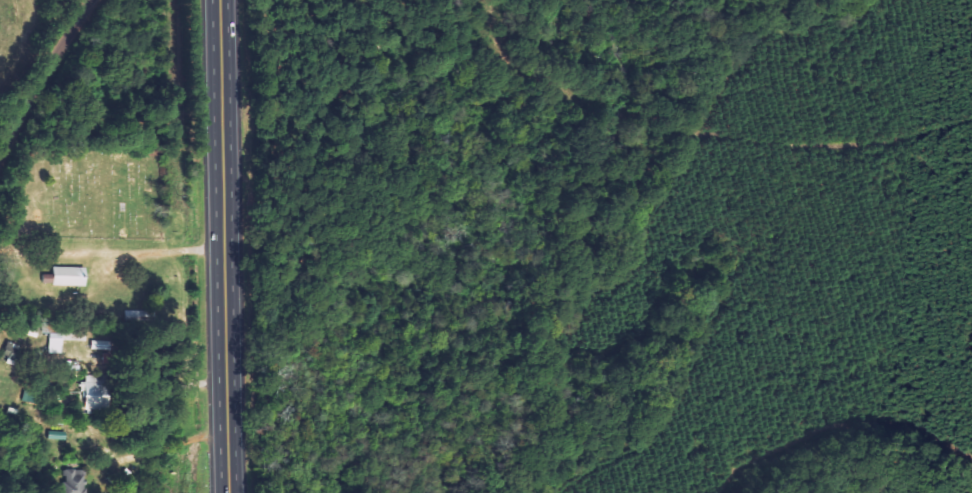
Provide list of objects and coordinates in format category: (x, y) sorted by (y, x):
road: (44, 81)
park: (96, 192)
road: (226, 246)
building: (72, 276)
building: (0, 339)
building: (15, 350)
building: (100, 392)
building: (78, 481)

